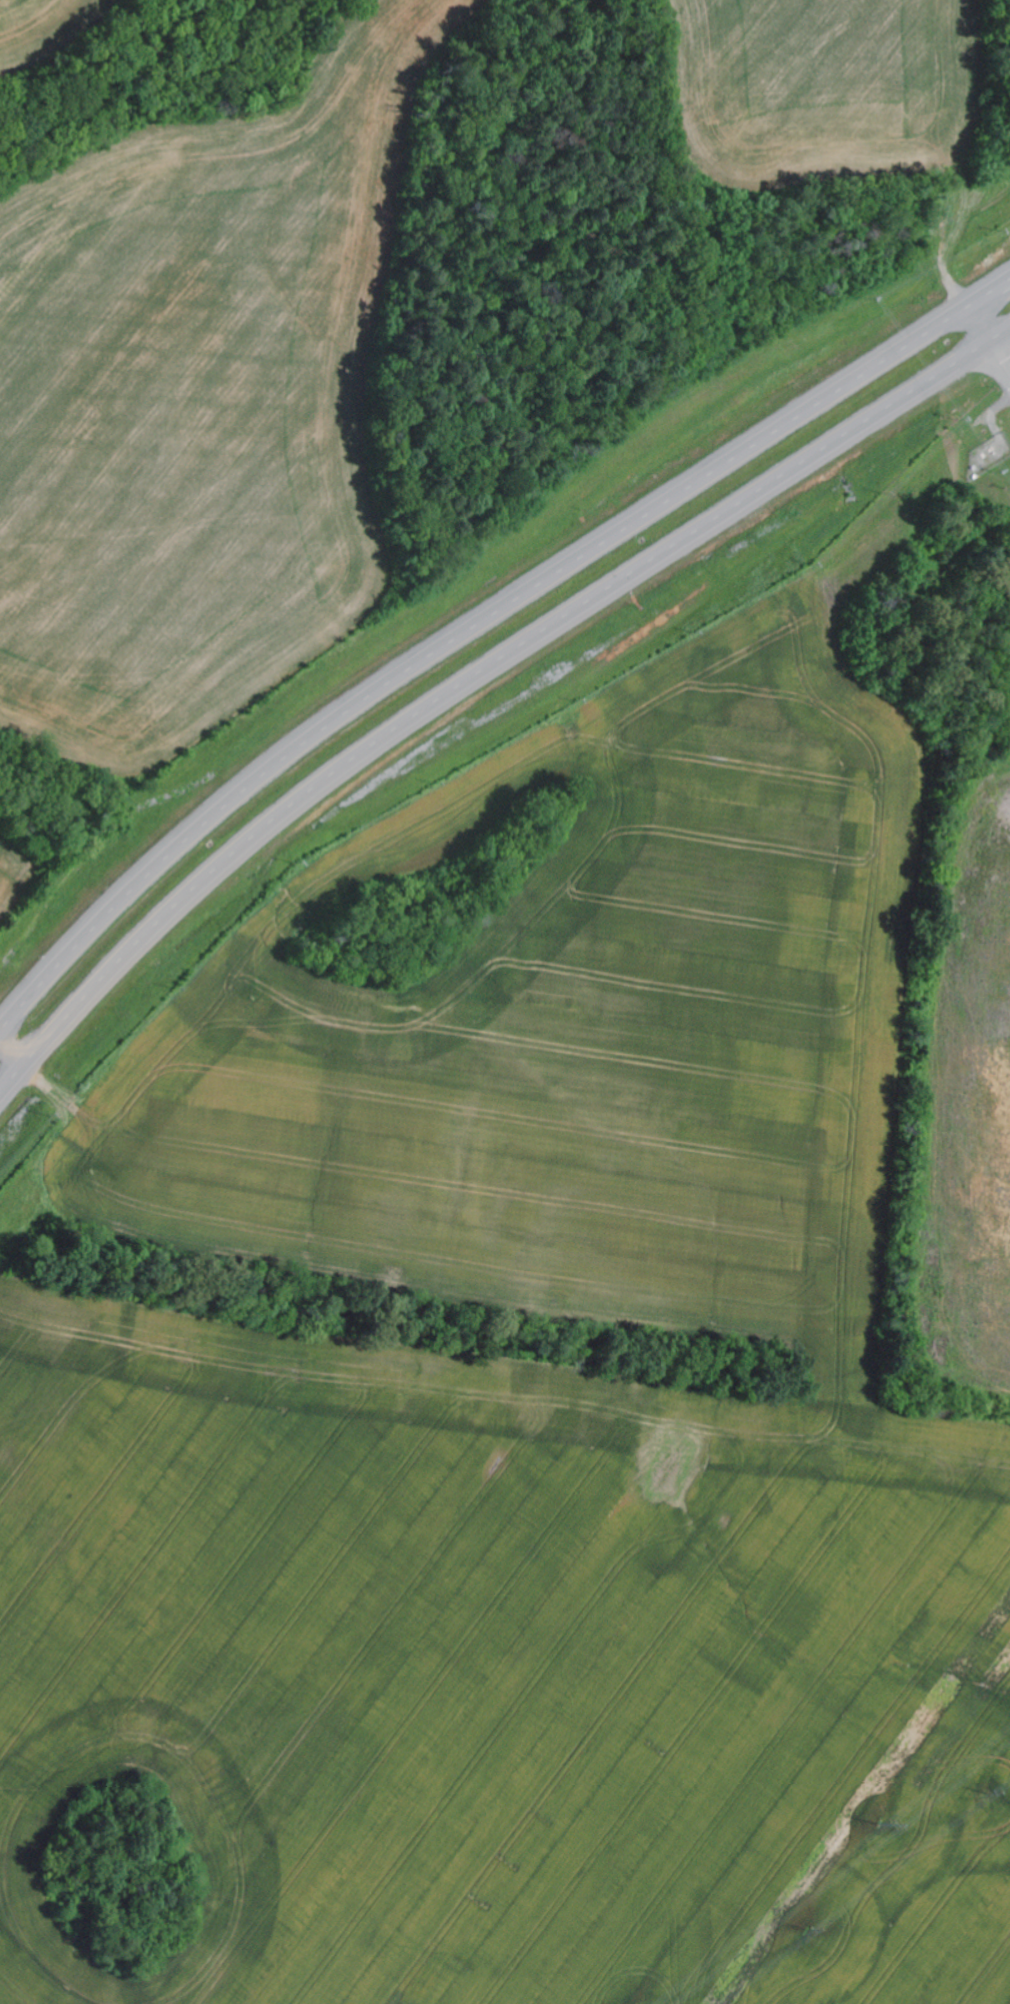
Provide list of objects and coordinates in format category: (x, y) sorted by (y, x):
road: (983, 352)
road: (479, 621)
road: (475, 681)

